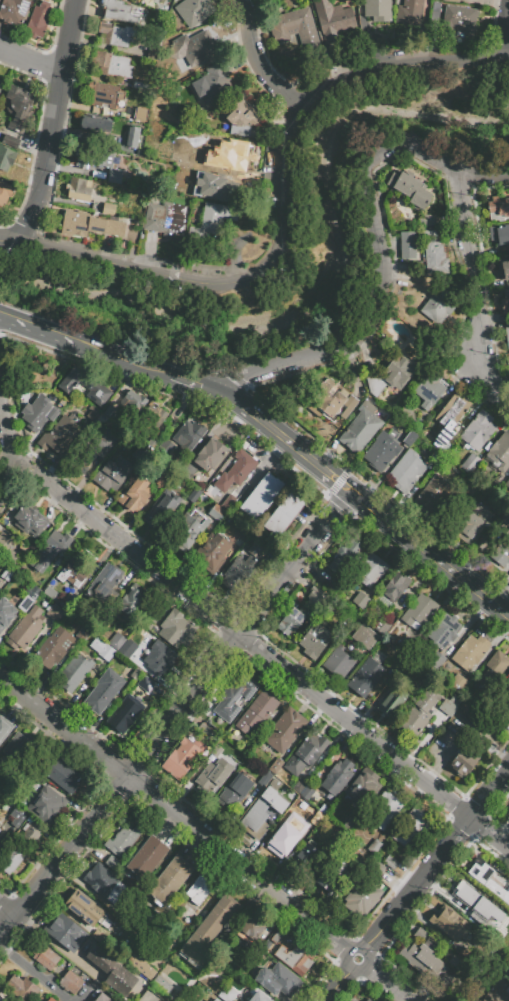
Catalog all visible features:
building: (161, 0)
building: (451, 1)
building: (13, 10)
building: (193, 11)
building: (377, 11)
building: (121, 12)
building: (409, 12)
building: (332, 19)
building: (38, 20)
building: (458, 20)
building: (293, 27)
building: (118, 34)
road: (507, 45)
building: (195, 49)
road: (31, 59)
road: (261, 62)
building: (112, 64)
building: (212, 82)
building: (1, 85)
building: (143, 85)
building: (106, 95)
building: (19, 107)
building: (243, 117)
road: (53, 123)
building: (92, 123)
building: (133, 137)
building: (11, 141)
building: (165, 149)
building: (222, 151)
building: (89, 156)
building: (6, 158)
road: (481, 179)
building: (410, 189)
building: (81, 192)
building: (4, 194)
building: (498, 208)
building: (165, 219)
building: (210, 220)
building: (427, 220)
building: (75, 223)
road: (287, 224)
building: (107, 226)
building: (427, 232)
building: (501, 235)
road: (0, 240)
road: (0, 241)
building: (407, 245)
building: (436, 259)
building: (412, 266)
building: (503, 268)
road: (388, 288)
road: (478, 293)
building: (505, 302)
building: (438, 304)
building: (507, 335)
road: (97, 353)
building: (398, 372)
building: (83, 384)
building: (374, 385)
building: (428, 390)
road: (223, 397)
building: (302, 397)
building: (330, 402)
building: (134, 408)
building: (39, 412)
building: (449, 418)
building: (157, 423)
building: (360, 428)
building: (478, 430)
building: (59, 435)
building: (106, 437)
building: (188, 437)
building: (409, 438)
road: (12, 451)
building: (381, 451)
building: (92, 452)
road: (300, 452)
building: (499, 453)
building: (209, 454)
building: (470, 463)
road: (24, 464)
building: (117, 470)
building: (235, 471)
building: (406, 471)
building: (162, 480)
building: (507, 483)
building: (472, 487)
building: (135, 493)
building: (432, 495)
building: (260, 496)
building: (228, 502)
building: (162, 511)
building: (284, 512)
building: (215, 515)
building: (29, 520)
building: (475, 522)
building: (191, 525)
road: (396, 527)
building: (245, 534)
building: (7, 549)
building: (49, 550)
building: (212, 551)
building: (260, 553)
building: (350, 553)
road: (136, 554)
building: (501, 554)
road: (295, 564)
building: (339, 567)
building: (370, 570)
building: (239, 572)
building: (72, 573)
building: (5, 576)
building: (332, 584)
building: (104, 585)
building: (395, 587)
road: (474, 591)
building: (50, 592)
building: (315, 597)
building: (28, 598)
building: (135, 601)
building: (362, 603)
building: (419, 611)
building: (5, 613)
building: (55, 613)
building: (289, 622)
building: (27, 627)
building: (382, 627)
building: (177, 629)
building: (444, 630)
building: (82, 634)
building: (364, 637)
building: (314, 640)
building: (117, 641)
building: (54, 647)
building: (102, 648)
building: (127, 648)
building: (470, 652)
building: (159, 658)
building: (338, 661)
building: (437, 661)
building: (492, 670)
building: (75, 672)
building: (136, 673)
building: (367, 674)
building: (145, 683)
building: (103, 690)
building: (234, 697)
building: (506, 697)
building: (394, 701)
building: (449, 705)
road: (183, 707)
building: (124, 713)
building: (258, 713)
building: (418, 714)
road: (356, 726)
road: (64, 727)
building: (5, 730)
building: (205, 730)
building: (284, 730)
building: (190, 748)
building: (21, 750)
building: (216, 751)
building: (305, 753)
building: (463, 762)
building: (176, 765)
building: (275, 765)
building: (60, 774)
building: (212, 777)
building: (337, 777)
building: (264, 779)
building: (363, 784)
building: (300, 786)
building: (235, 789)
road: (491, 793)
building: (47, 804)
building: (323, 808)
building: (262, 809)
building: (385, 809)
building: (508, 813)
building: (15, 823)
building: (409, 826)
road: (491, 830)
building: (1, 831)
building: (34, 834)
building: (123, 841)
building: (280, 843)
building: (374, 846)
building: (147, 857)
building: (304, 857)
road: (64, 858)
building: (12, 859)
building: (112, 862)
road: (242, 868)
building: (377, 868)
building: (332, 874)
building: (490, 879)
building: (101, 880)
building: (169, 880)
building: (196, 886)
road: (415, 887)
building: (202, 893)
building: (358, 896)
building: (477, 903)
building: (85, 908)
road: (8, 910)
building: (449, 923)
building: (210, 928)
building: (256, 929)
building: (64, 931)
building: (98, 936)
building: (276, 937)
road: (57, 946)
building: (421, 954)
building: (44, 956)
building: (294, 958)
building: (141, 966)
building: (112, 972)
road: (34, 973)
building: (277, 979)
road: (340, 979)
road: (382, 980)
building: (158, 981)
building: (71, 982)
building: (21, 988)
building: (229, 994)
building: (497, 994)
road: (85, 995)
building: (102, 997)
building: (258, 997)
building: (1, 999)
building: (50, 999)
building: (216, 1000)
building: (365, 1000)
building: (368, 1000)

